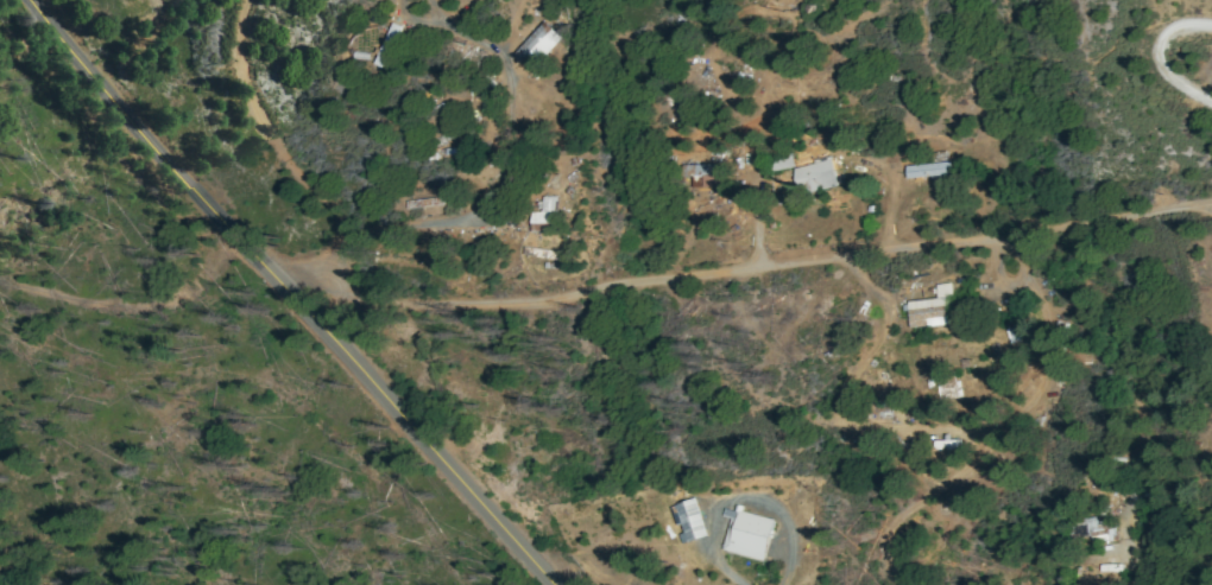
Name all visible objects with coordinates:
building: (392, 46)
building: (544, 47)
road: (74, 49)
road: (1161, 57)
road: (138, 104)
building: (784, 163)
road: (299, 168)
building: (935, 168)
building: (707, 173)
road: (221, 176)
building: (821, 176)
building: (429, 202)
building: (551, 217)
road: (774, 268)
road: (132, 309)
building: (938, 310)
building: (1016, 335)
road: (329, 346)
building: (954, 386)
building: (951, 444)
building: (689, 520)
building: (1086, 526)
building: (745, 535)
road: (592, 574)
building: (1098, 579)

